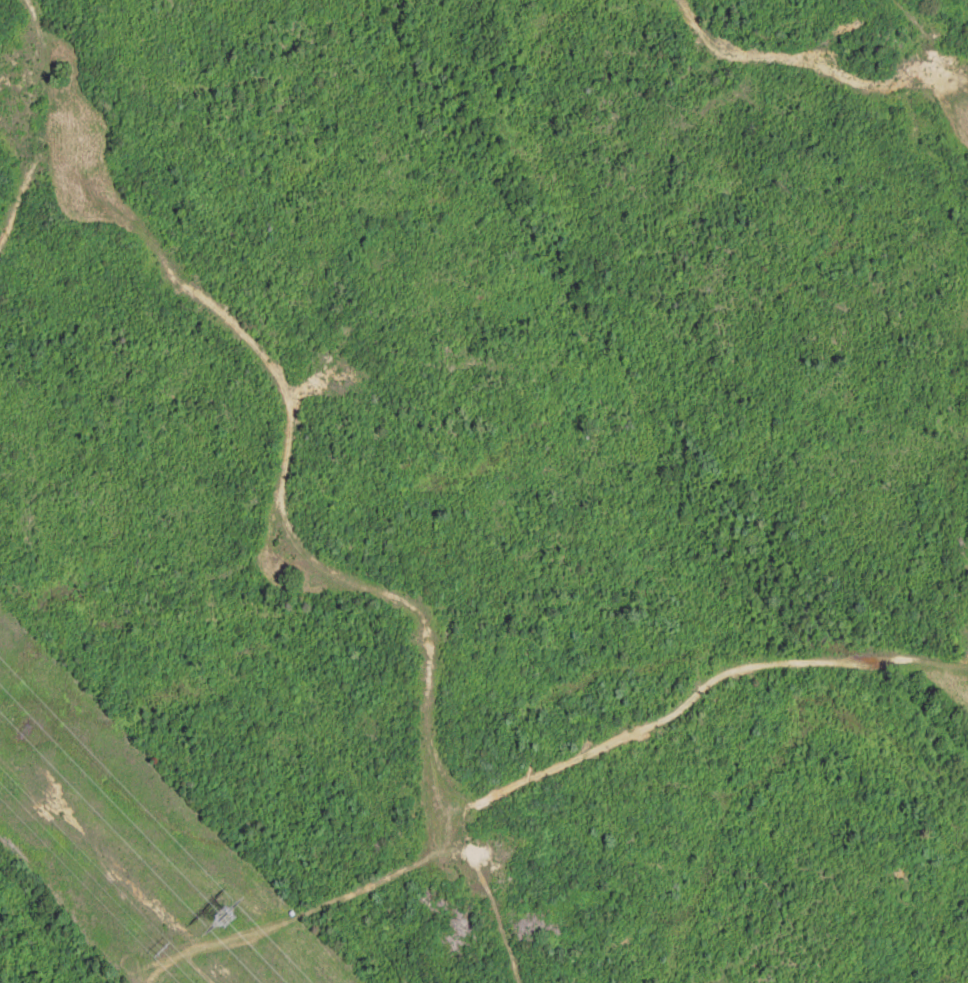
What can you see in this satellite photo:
power tower: (215, 918)
power tower: (164, 949)

